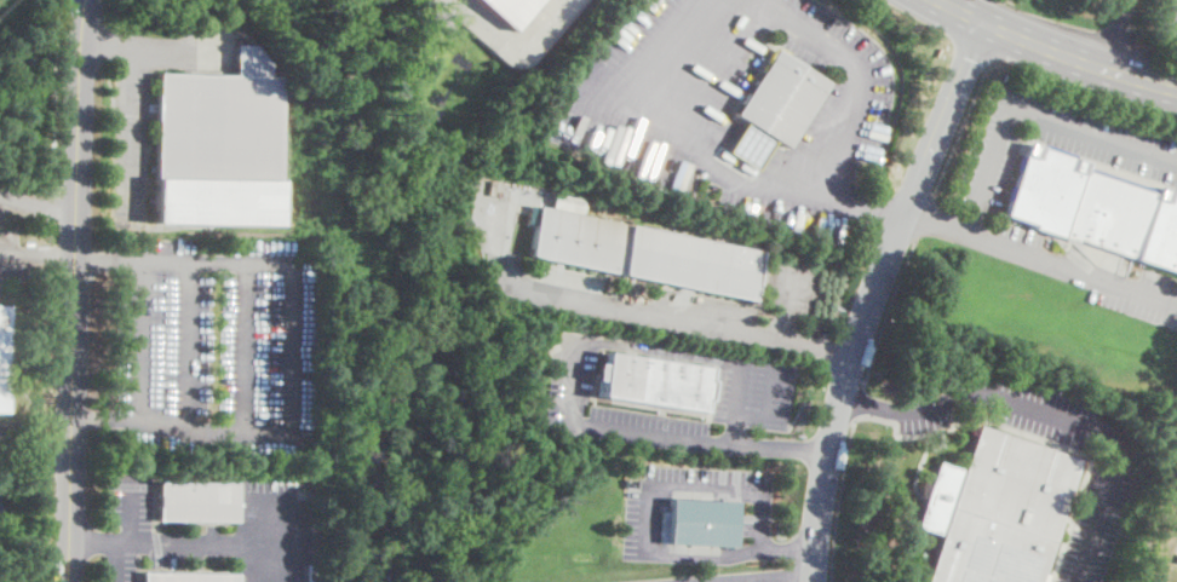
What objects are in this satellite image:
road: (1011, 1)
parking lot: (746, 5)
building: (507, 10)
road: (1173, 21)
parking lot: (1172, 22)
road: (1119, 36)
road: (103, 41)
parking lot: (632, 45)
road: (512, 46)
road: (1055, 52)
road: (1015, 69)
parking lot: (837, 82)
road: (110, 90)
road: (127, 91)
road: (1027, 106)
building: (774, 109)
road: (127, 116)
building: (218, 122)
parking lot: (1056, 143)
parking lot: (130, 146)
road: (782, 188)
parking lot: (2, 192)
building: (569, 201)
road: (852, 201)
road: (38, 203)
building: (1095, 208)
road: (924, 218)
parking lot: (1020, 235)
parking lot: (8, 253)
building: (645, 253)
road: (38, 254)
road: (108, 257)
road: (165, 258)
road: (1040, 258)
road: (239, 260)
parking lot: (793, 283)
road: (74, 290)
road: (874, 294)
parking lot: (1141, 298)
road: (791, 300)
road: (886, 311)
road: (681, 321)
parking lot: (216, 341)
building: (1, 356)
parking lot: (572, 368)
building: (654, 382)
road: (568, 387)
parking lot: (752, 390)
road: (856, 401)
road: (768, 404)
road: (1050, 415)
road: (214, 425)
road: (35, 437)
road: (839, 500)
building: (197, 501)
building: (997, 511)
parking lot: (642, 512)
road: (642, 515)
building: (700, 520)
parking lot: (1095, 528)
parking lot: (274, 529)
parking lot: (142, 532)
road: (131, 534)
road: (276, 534)
road: (99, 542)
road: (203, 543)
parking lot: (1176, 558)
road: (775, 576)
building: (188, 577)
parking lot: (699, 578)
road: (722, 580)

